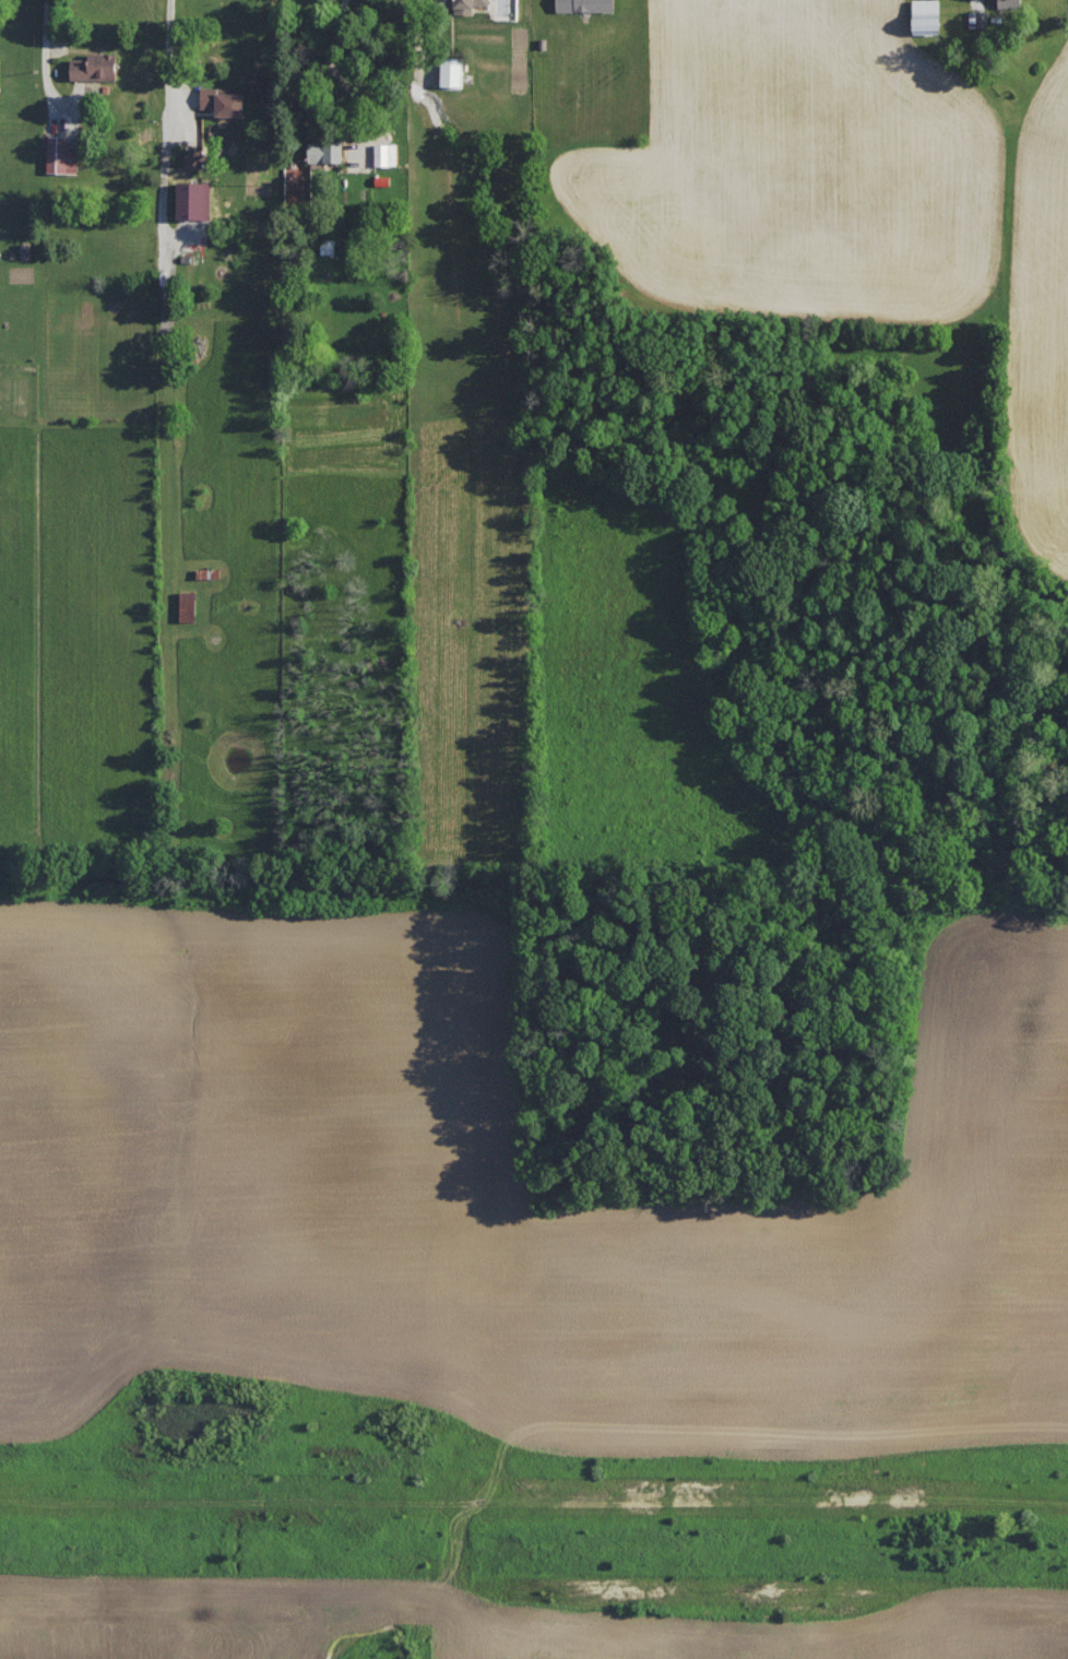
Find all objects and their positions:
building: (1009, 3)
building: (462, 4)
building: (585, 4)
building: (926, 16)
road: (174, 50)
road: (47, 54)
building: (94, 66)
road: (334, 66)
building: (452, 71)
building: (222, 99)
building: (324, 151)
building: (62, 153)
building: (385, 154)
building: (194, 156)
building: (195, 218)
building: (187, 615)

